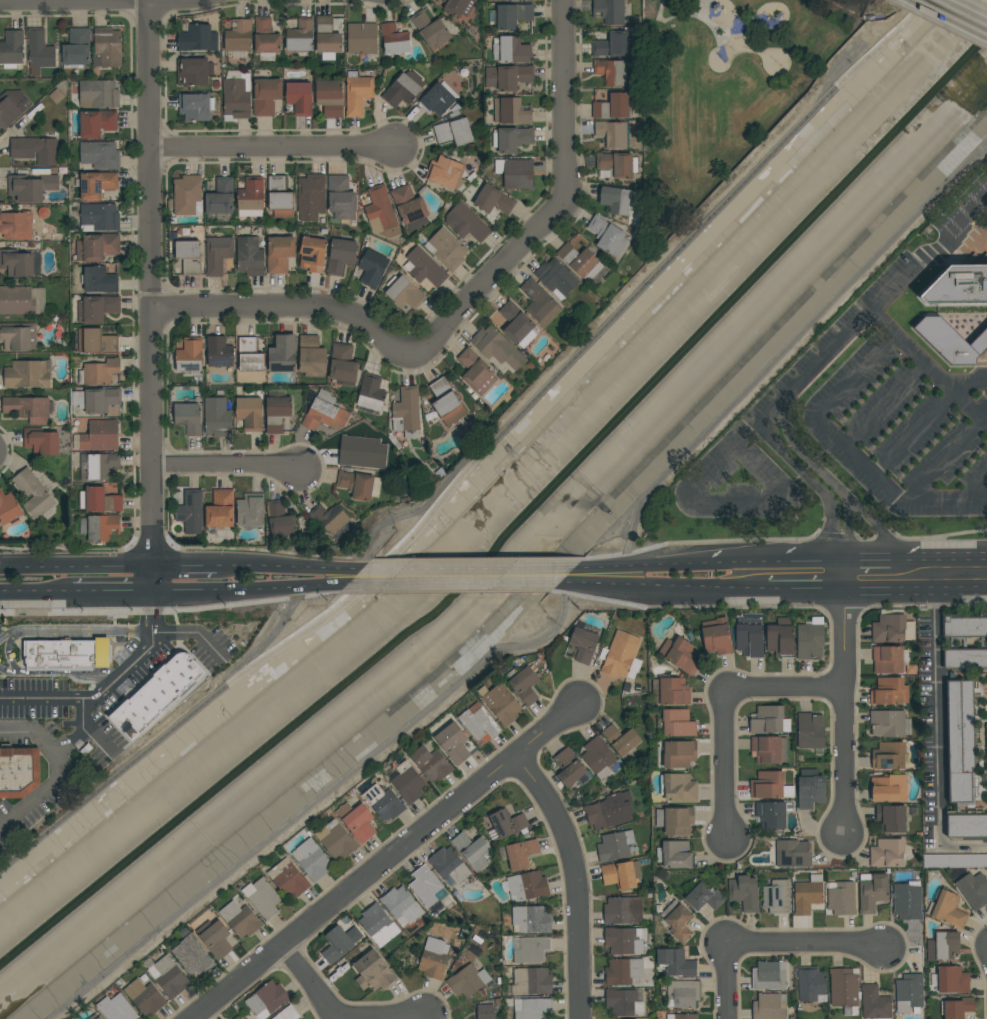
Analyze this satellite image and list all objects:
building: (514, 0)
road: (88, 2)
building: (459, 7)
road: (970, 8)
building: (610, 11)
building: (512, 15)
road: (693, 16)
road: (708, 22)
building: (430, 29)
building: (239, 35)
building: (300, 36)
building: (266, 37)
building: (198, 38)
building: (327, 38)
building: (362, 39)
building: (395, 41)
building: (612, 45)
building: (107, 48)
building: (12, 49)
building: (76, 49)
building: (512, 50)
building: (39, 51)
building: (193, 72)
building: (612, 72)
building: (508, 77)
park: (722, 88)
building: (403, 89)
building: (98, 93)
building: (266, 94)
building: (358, 94)
building: (56, 96)
building: (236, 96)
building: (299, 98)
building: (329, 98)
building: (437, 100)
building: (613, 106)
building: (12, 107)
building: (195, 107)
building: (511, 112)
building: (97, 123)
building: (453, 132)
building: (612, 134)
building: (512, 139)
building: (471, 146)
road: (273, 148)
building: (36, 150)
building: (100, 155)
road: (240, 162)
building: (616, 165)
building: (446, 173)
building: (516, 173)
building: (94, 185)
building: (31, 187)
building: (187, 195)
building: (221, 197)
building: (251, 197)
building: (280, 197)
building: (311, 197)
building: (341, 198)
building: (493, 200)
building: (616, 200)
building: (409, 207)
building: (381, 213)
building: (99, 218)
building: (466, 223)
building: (16, 226)
building: (607, 236)
building: (97, 247)
building: (448, 249)
building: (217, 254)
building: (279, 254)
building: (312, 254)
building: (340, 256)
building: (189, 257)
building: (249, 257)
building: (580, 262)
building: (17, 263)
building: (372, 268)
building: (424, 268)
building: (555, 278)
building: (99, 280)
road: (134, 282)
building: (956, 291)
building: (404, 293)
road: (152, 298)
building: (16, 300)
building: (37, 301)
building: (540, 303)
road: (876, 304)
road: (464, 306)
building: (96, 309)
building: (517, 325)
road: (167, 333)
building: (18, 337)
building: (96, 342)
building: (952, 347)
building: (497, 348)
building: (219, 352)
building: (282, 354)
building: (249, 355)
building: (190, 357)
building: (311, 357)
road: (780, 358)
building: (342, 366)
building: (99, 371)
building: (476, 372)
building: (27, 375)
road: (858, 377)
building: (371, 392)
building: (99, 401)
building: (447, 402)
road: (884, 404)
building: (28, 409)
building: (277, 410)
building: (250, 413)
building: (325, 413)
building: (406, 413)
road: (928, 413)
building: (217, 417)
building: (189, 418)
building: (100, 435)
building: (42, 443)
road: (11, 450)
building: (356, 452)
road: (482, 455)
road: (943, 457)
road: (722, 461)
road: (466, 462)
building: (98, 465)
road: (228, 465)
road: (828, 479)
road: (976, 484)
building: (359, 485)
road: (813, 485)
road: (889, 491)
building: (35, 495)
building: (100, 500)
building: (9, 508)
building: (220, 509)
building: (251, 510)
building: (191, 511)
road: (390, 519)
building: (332, 520)
building: (281, 521)
building: (99, 527)
road: (877, 527)
road: (944, 560)
road: (871, 561)
road: (785, 563)
road: (182, 565)
road: (73, 566)
road: (654, 566)
road: (288, 567)
road: (469, 570)
road: (459, 584)
road: (660, 584)
road: (793, 585)
road: (914, 585)
road: (244, 589)
road: (111, 595)
road: (37, 596)
building: (963, 625)
building: (891, 627)
road: (75, 632)
road: (195, 632)
building: (715, 636)
building: (749, 637)
building: (780, 637)
building: (809, 639)
road: (264, 644)
building: (583, 644)
road: (7, 652)
building: (67, 653)
building: (679, 654)
building: (620, 656)
building: (964, 658)
building: (887, 659)
road: (62, 672)
building: (524, 685)
road: (107, 687)
road: (781, 687)
building: (669, 691)
building: (889, 691)
building: (156, 694)
road: (842, 700)
building: (500, 703)
road: (936, 715)
building: (769, 720)
building: (478, 722)
building: (677, 723)
building: (887, 723)
building: (810, 730)
road: (79, 733)
building: (986, 738)
building: (959, 739)
building: (621, 741)
building: (453, 742)
building: (768, 749)
building: (676, 754)
building: (888, 755)
building: (599, 757)
building: (430, 764)
building: (568, 767)
road: (723, 767)
building: (18, 772)
road: (65, 774)
building: (407, 783)
building: (769, 785)
building: (678, 787)
building: (888, 787)
building: (809, 788)
road: (328, 800)
building: (383, 802)
building: (609, 811)
building: (771, 813)
building: (891, 817)
building: (674, 820)
building: (356, 821)
building: (507, 823)
building: (966, 825)
building: (335, 839)
building: (614, 845)
road: (963, 845)
building: (472, 850)
building: (886, 852)
building: (518, 853)
building: (792, 853)
building: (675, 854)
building: (311, 859)
road: (390, 860)
building: (448, 865)
building: (620, 874)
building: (287, 878)
road: (575, 880)
building: (526, 885)
building: (426, 886)
building: (973, 890)
building: (872, 891)
building: (744, 892)
building: (807, 894)
building: (776, 896)
building: (261, 897)
building: (703, 897)
building: (840, 898)
building: (907, 900)
building: (401, 905)
building: (948, 909)
building: (622, 910)
building: (240, 919)
building: (530, 919)
building: (679, 922)
building: (377, 924)
building: (214, 938)
building: (624, 940)
building: (339, 943)
road: (805, 945)
building: (942, 946)
building: (531, 950)
building: (192, 956)
building: (433, 958)
building: (675, 963)
building: (372, 971)
building: (624, 972)
building: (166, 975)
building: (768, 975)
building: (467, 980)
building: (952, 980)
building: (531, 981)
road: (725, 981)
road: (308, 984)
building: (811, 984)
building: (844, 989)
building: (908, 992)
building: (681, 993)
building: (144, 996)
building: (266, 999)
building: (623, 1002)
building: (875, 1003)
building: (768, 1006)
building: (956, 1007)
building: (115, 1008)
building: (532, 1008)
building: (485, 1012)
building: (286, 1013)
building: (681, 1016)
building: (95, 1017)
building: (237, 1018)
road: (407, 1018)

